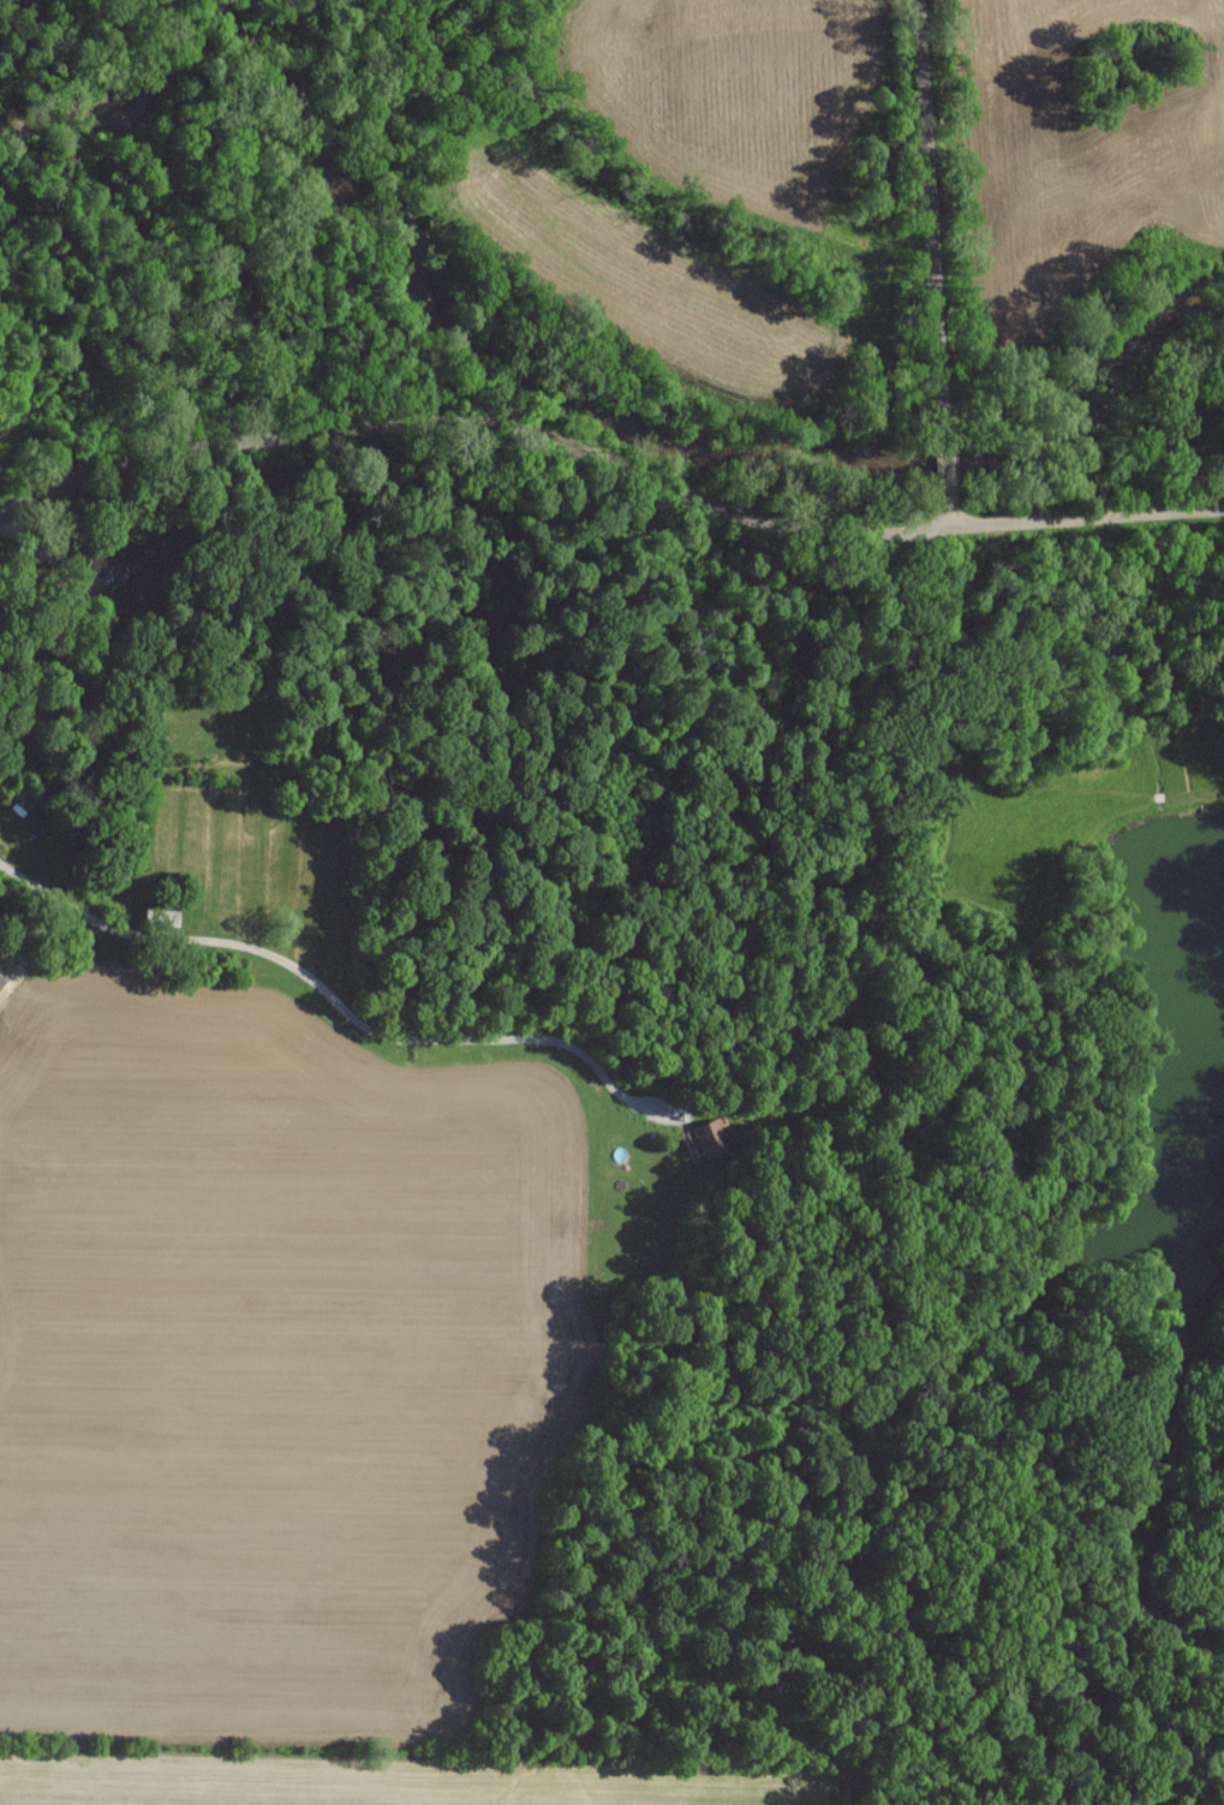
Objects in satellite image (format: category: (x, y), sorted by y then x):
road: (935, 262)
road: (602, 490)
building: (710, 1136)
crop: (281, 1402)

